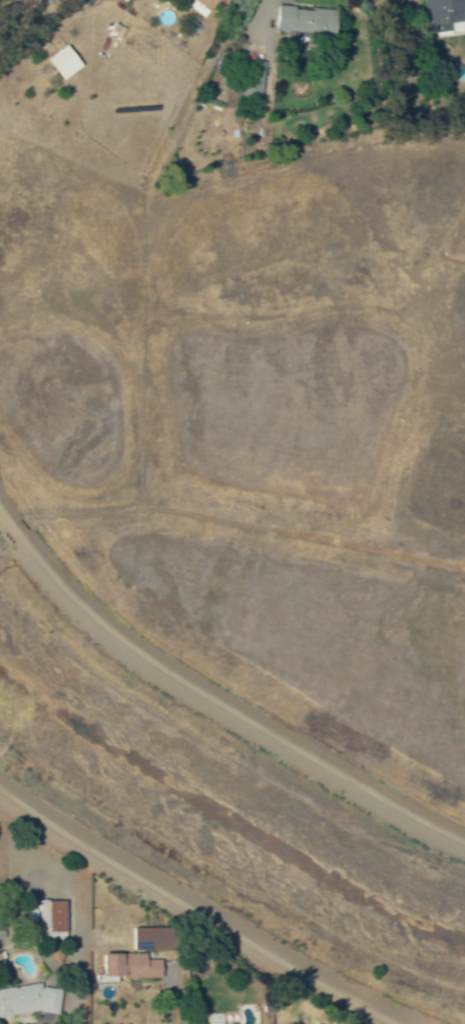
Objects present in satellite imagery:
building: (204, 3)
building: (445, 12)
building: (303, 20)
building: (61, 63)
building: (252, 80)
road: (214, 702)
road: (197, 910)
building: (51, 916)
building: (147, 939)
building: (127, 966)
building: (27, 1000)
building: (209, 1018)

